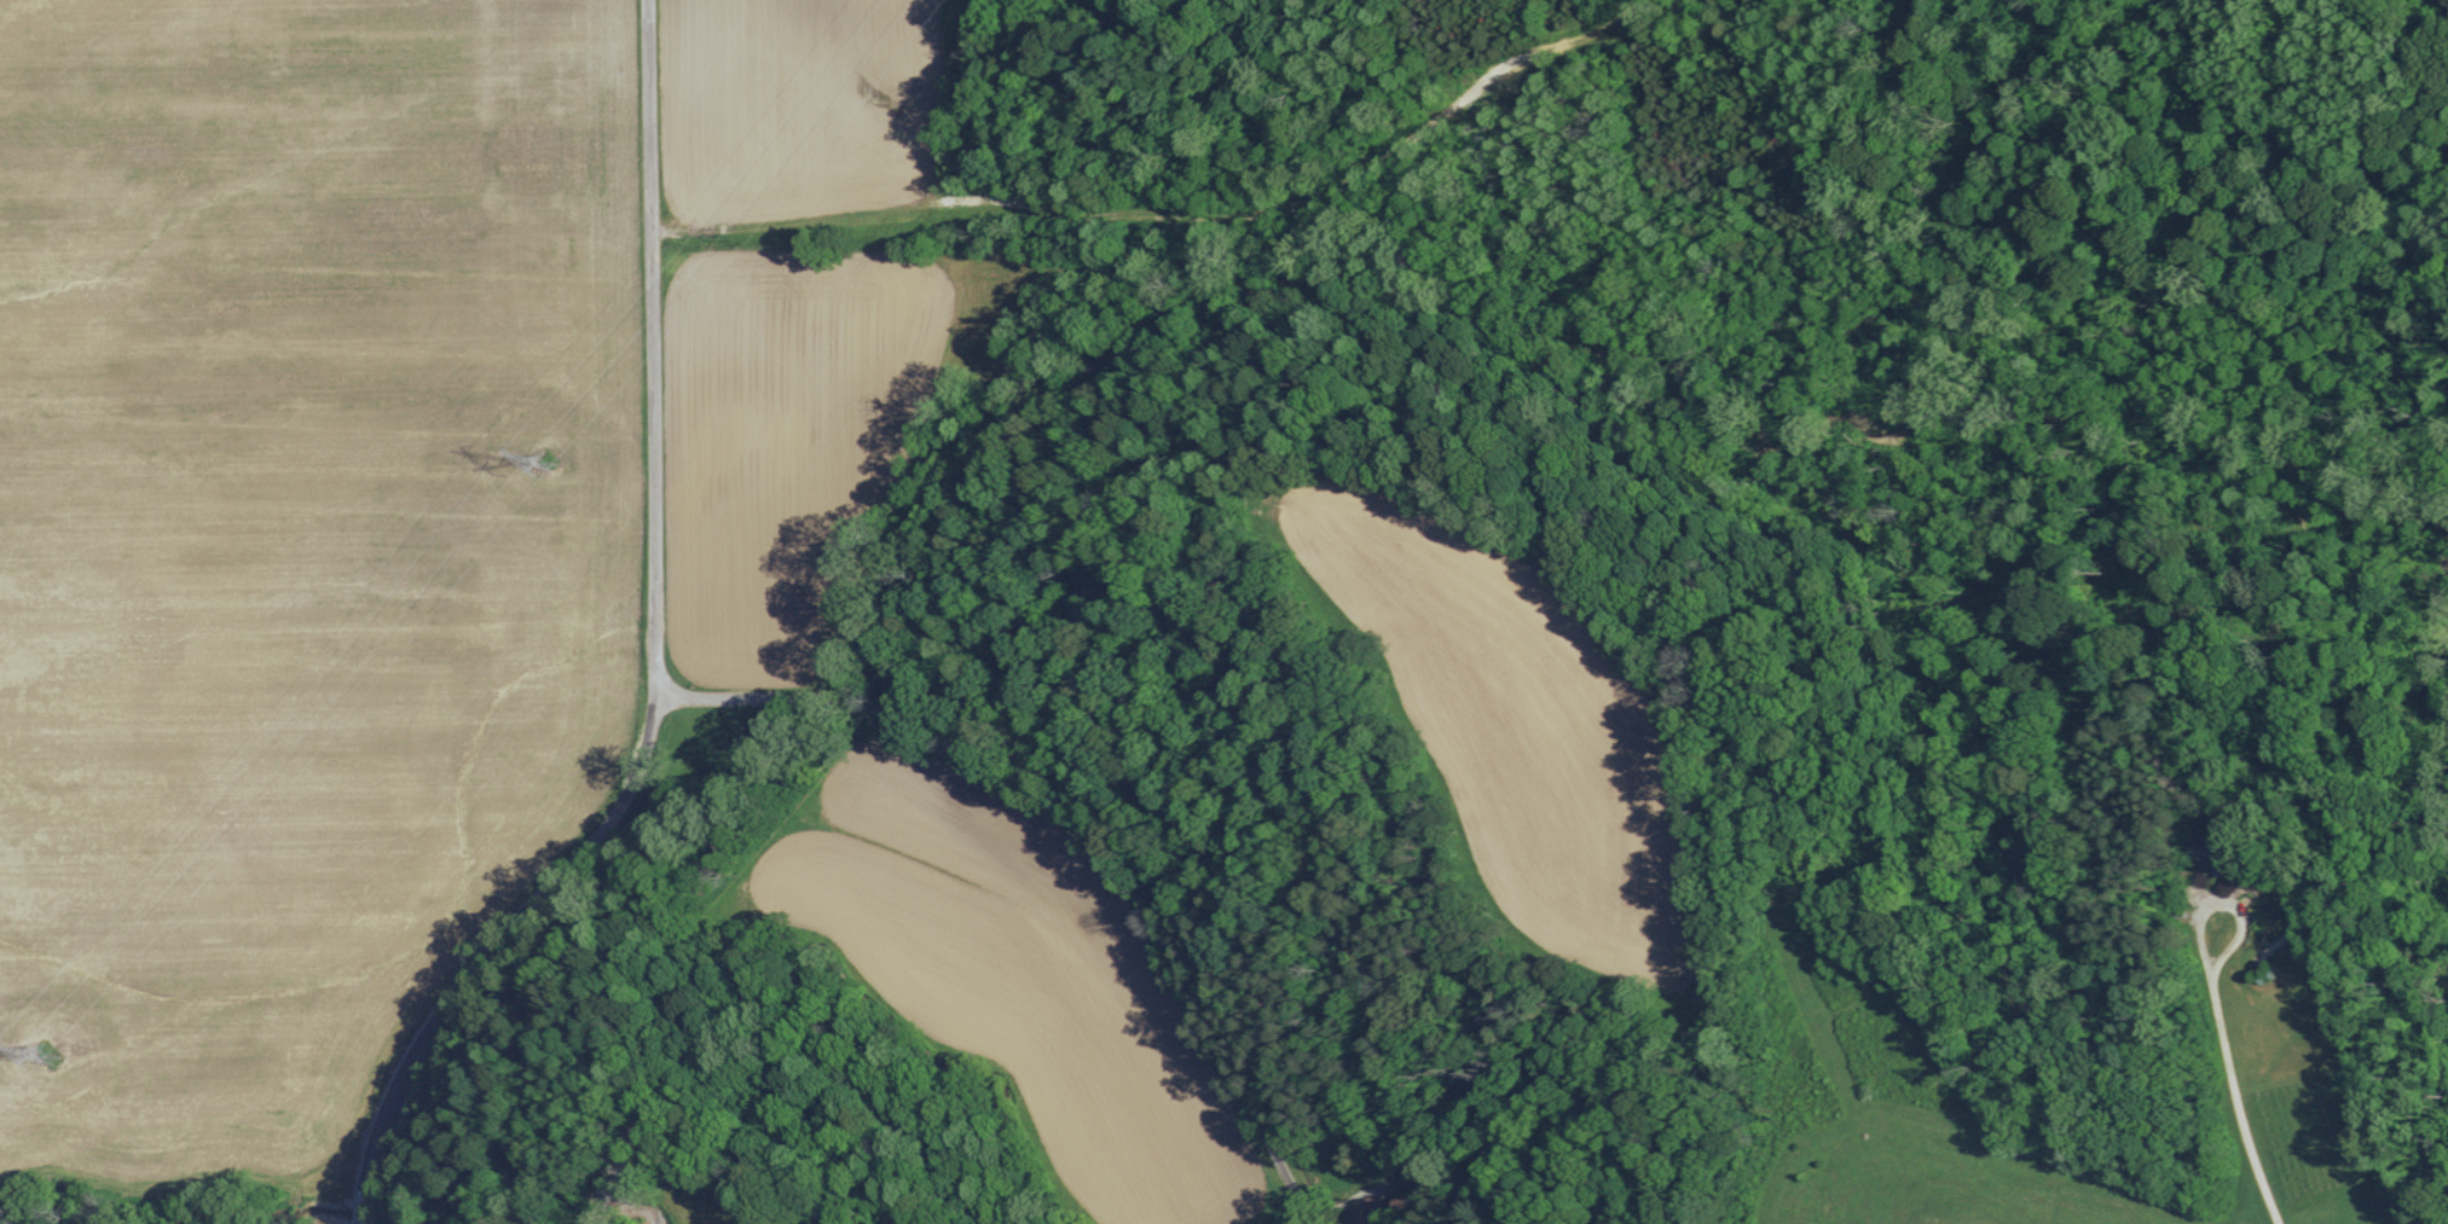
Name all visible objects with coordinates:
power tower: (549, 463)
road: (656, 656)
road: (1086, 825)
road: (2228, 905)
power tower: (51, 1054)
road: (2239, 1101)
building: (1377, 1210)

